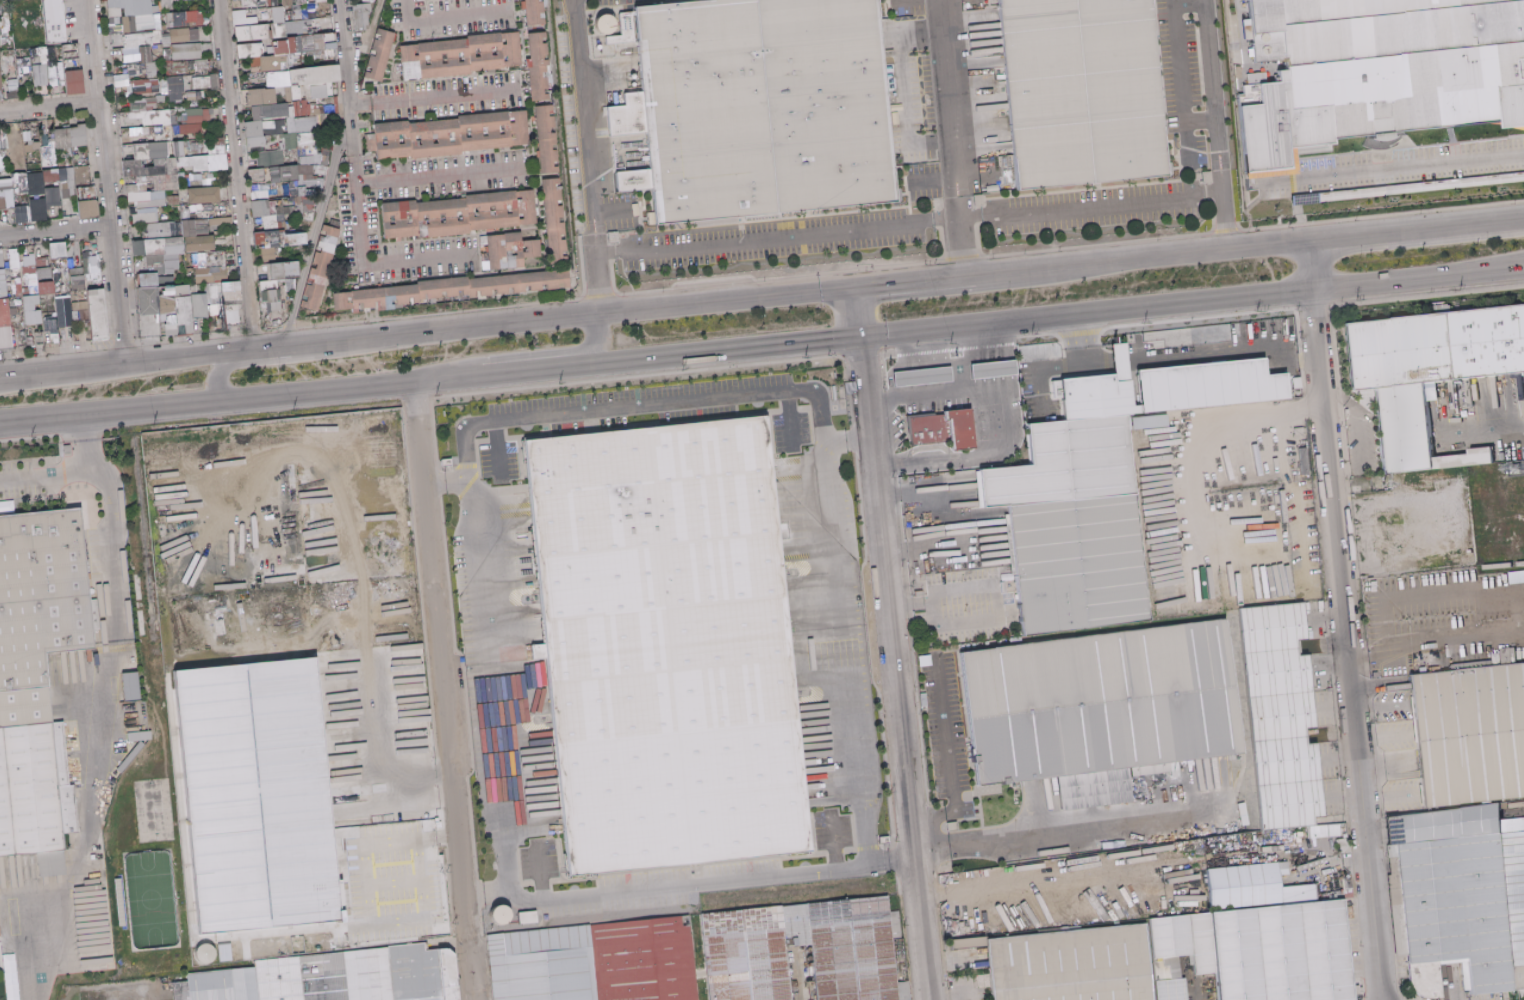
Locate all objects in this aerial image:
road: (344, 68)
parking lot: (1181, 85)
parking lot: (1397, 164)
road: (235, 175)
road: (104, 181)
gas station: (993, 366)
gas station: (922, 373)
gas station: (954, 404)
parking lot: (631, 417)
parking lot: (969, 608)
parking lot: (942, 722)
parking lot: (830, 832)
parking lot: (542, 864)

